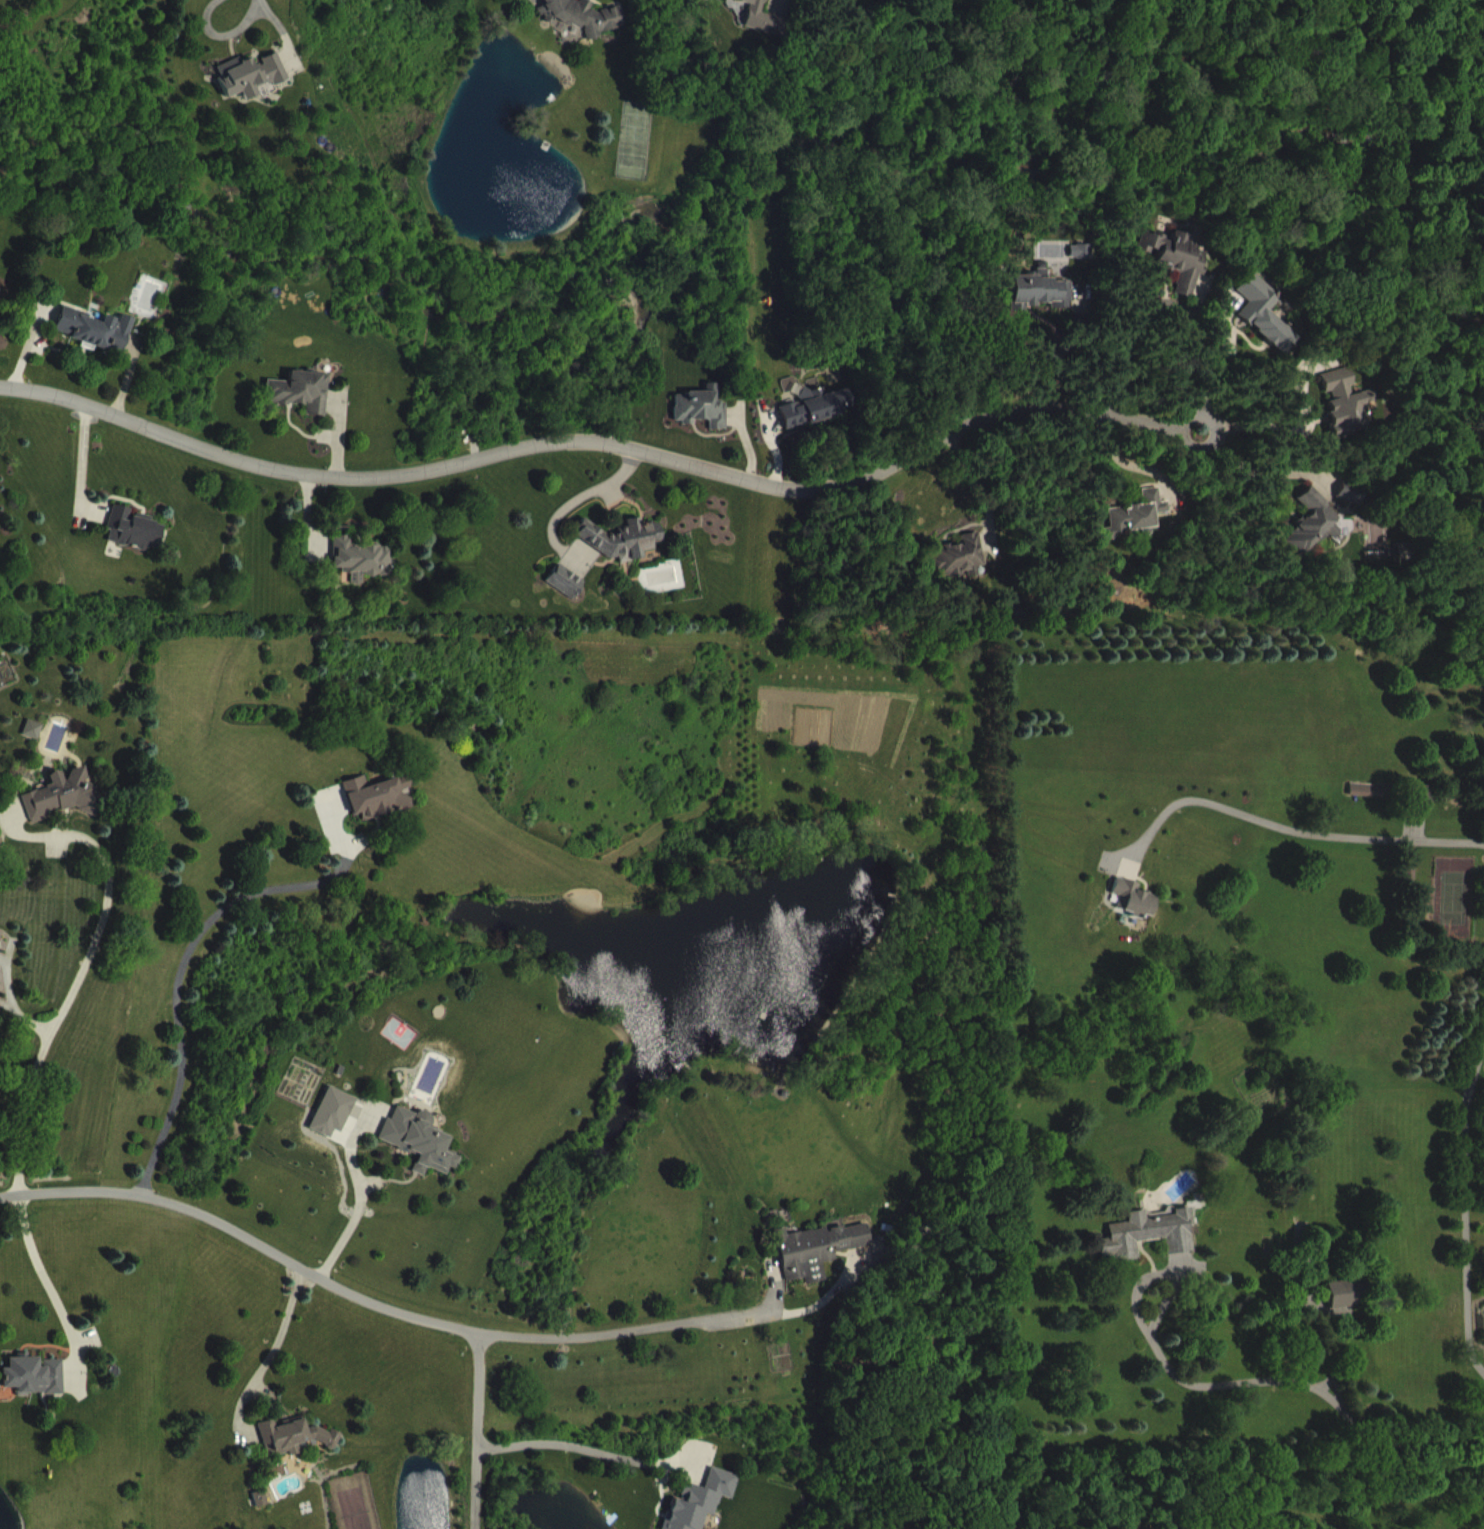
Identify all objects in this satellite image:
building: (857, 3)
road: (253, 4)
building: (756, 21)
building: (582, 26)
building: (255, 89)
building: (1181, 272)
building: (1046, 306)
building: (1268, 327)
building: (99, 343)
road: (1210, 361)
building: (306, 406)
building: (1350, 416)
building: (820, 421)
building: (705, 422)
road: (1214, 430)
road: (588, 438)
road: (1131, 462)
road: (1272, 470)
road: (973, 481)
building: (1142, 529)
building: (1317, 537)
building: (139, 543)
building: (626, 553)
building: (963, 570)
building: (367, 573)
building: (571, 595)
building: (38, 744)
building: (1375, 804)
building: (68, 810)
building: (1430, 810)
building: (382, 811)
road: (1292, 828)
building: (1139, 912)
road: (186, 949)
road: (79, 972)
road: (12, 1002)
building: (338, 1126)
building: (423, 1154)
road: (360, 1193)
road: (1465, 1202)
building: (1154, 1248)
building: (823, 1263)
road: (1157, 1270)
road: (49, 1286)
road: (383, 1299)
building: (1350, 1307)
road: (266, 1352)
road: (1315, 1385)
building: (38, 1389)
road: (477, 1429)
road: (577, 1445)
building: (299, 1451)
building: (710, 1508)
building: (265, 1514)

